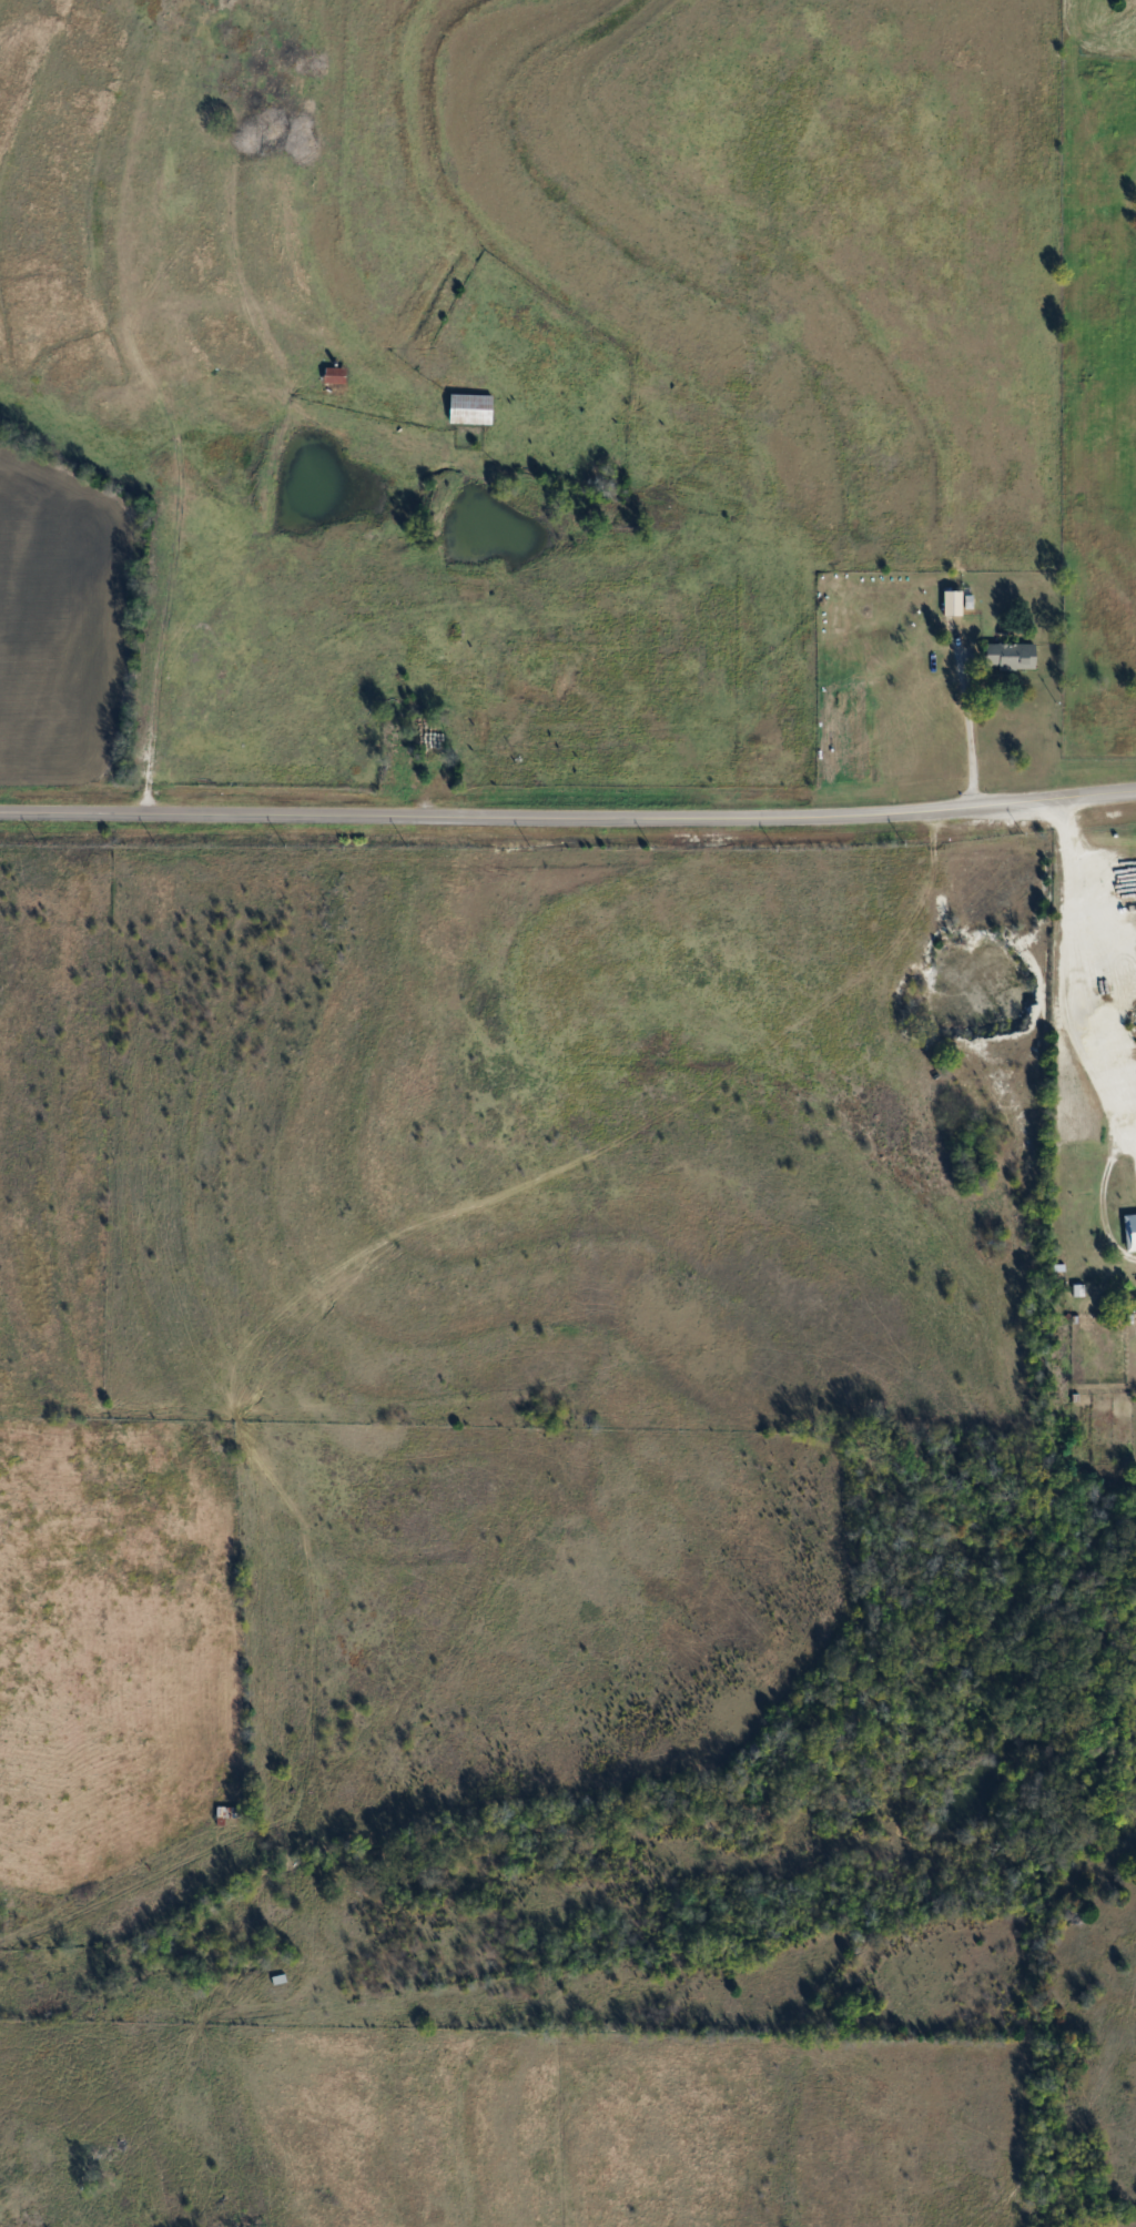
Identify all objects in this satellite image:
building: (335, 374)
building: (471, 407)
building: (955, 603)
crop: (60, 617)
building: (1013, 656)
road: (968, 732)
building: (405, 775)
road: (568, 814)
road: (1082, 963)
building: (1129, 1231)
building: (226, 1812)

